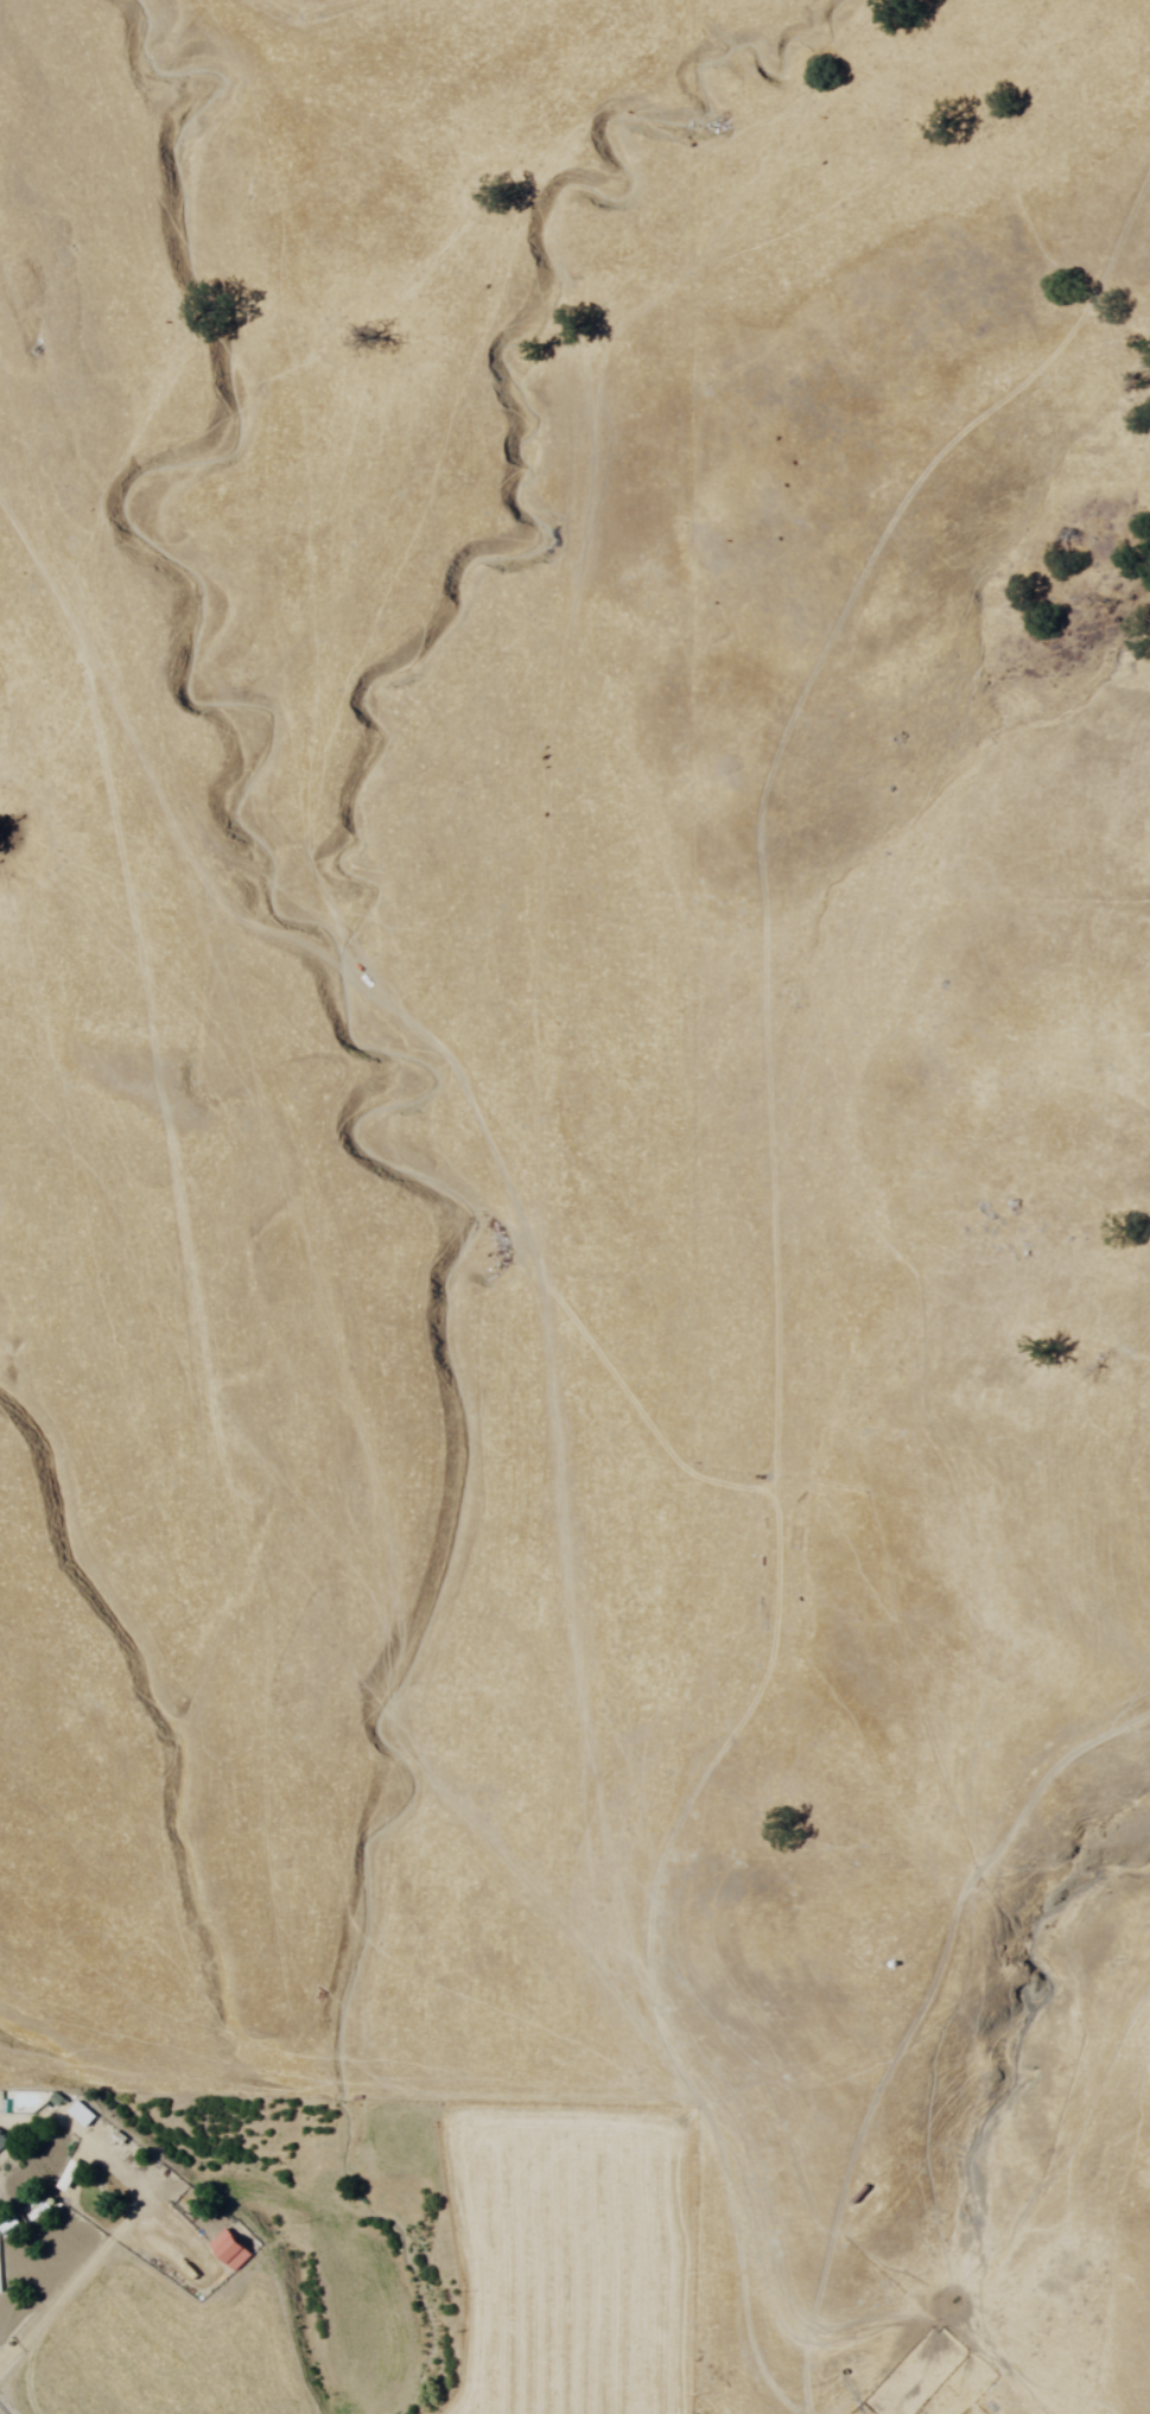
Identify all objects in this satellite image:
road: (775, 1263)
crop: (623, 1437)
road: (914, 2020)
building: (70, 2110)
building: (2, 2142)
building: (56, 2172)
building: (31, 2213)
building: (224, 2251)
building: (0, 2287)
road: (2, 2410)

